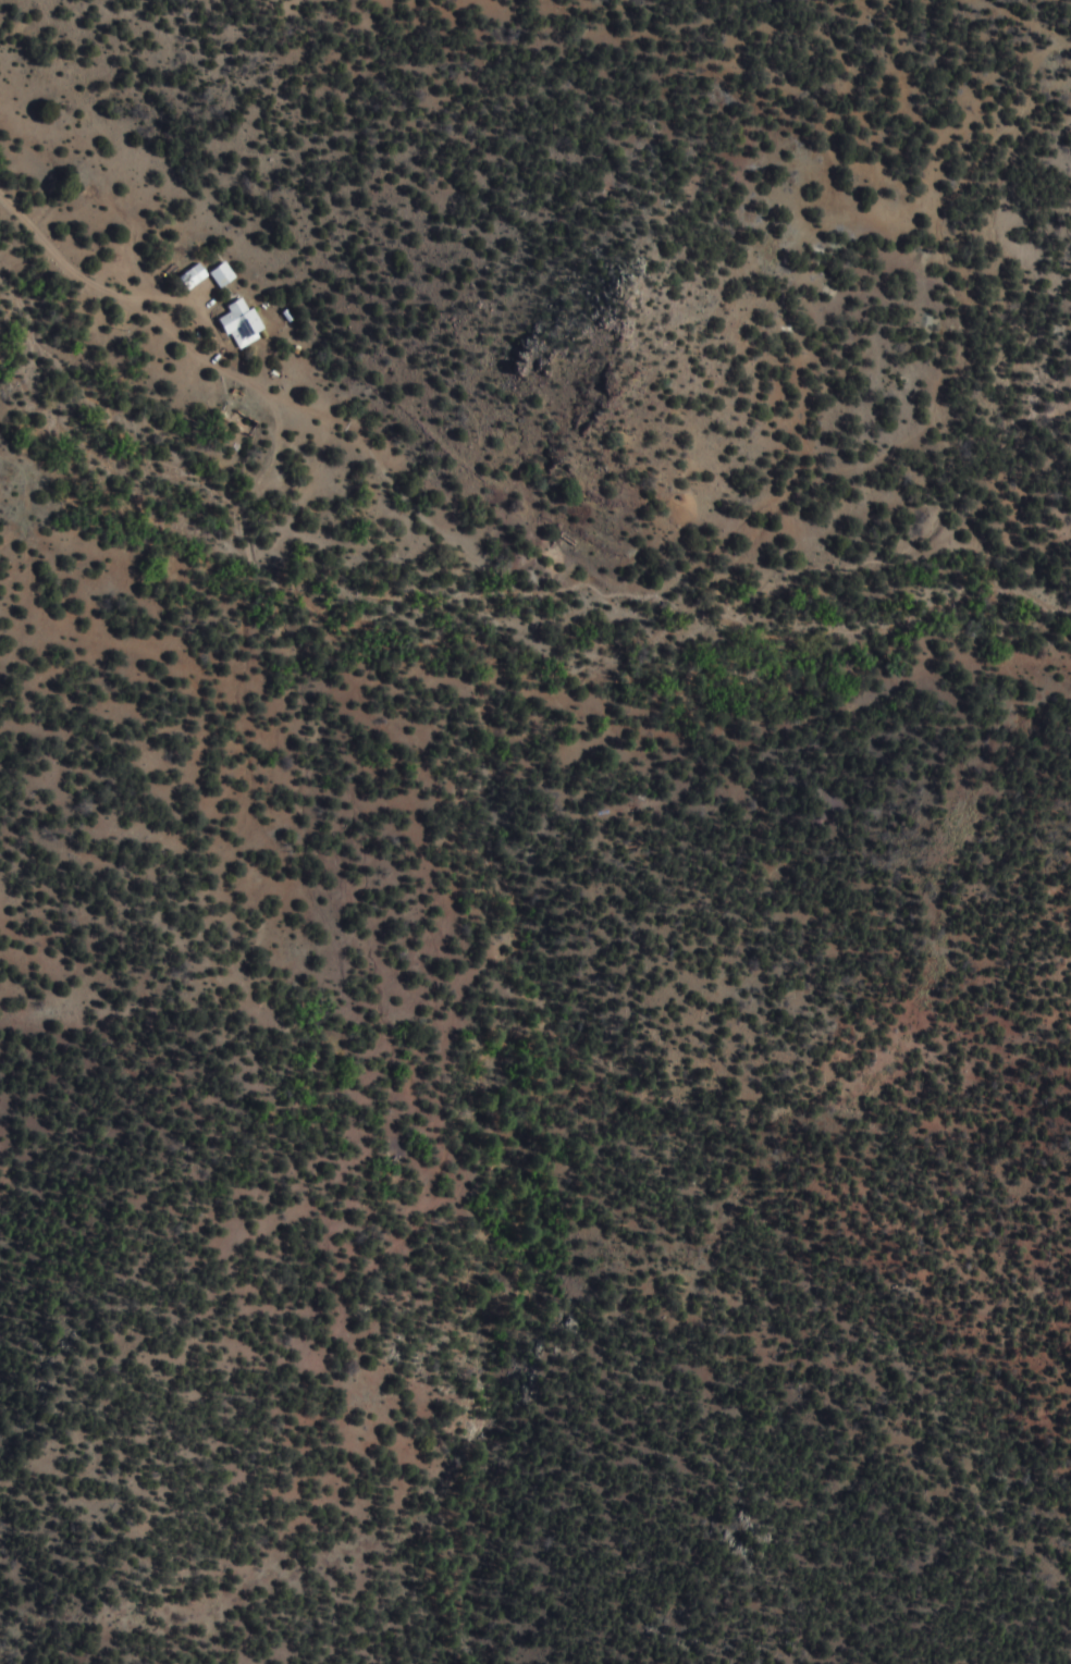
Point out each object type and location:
building: (229, 274)
building: (198, 278)
building: (247, 323)
road: (482, 539)

